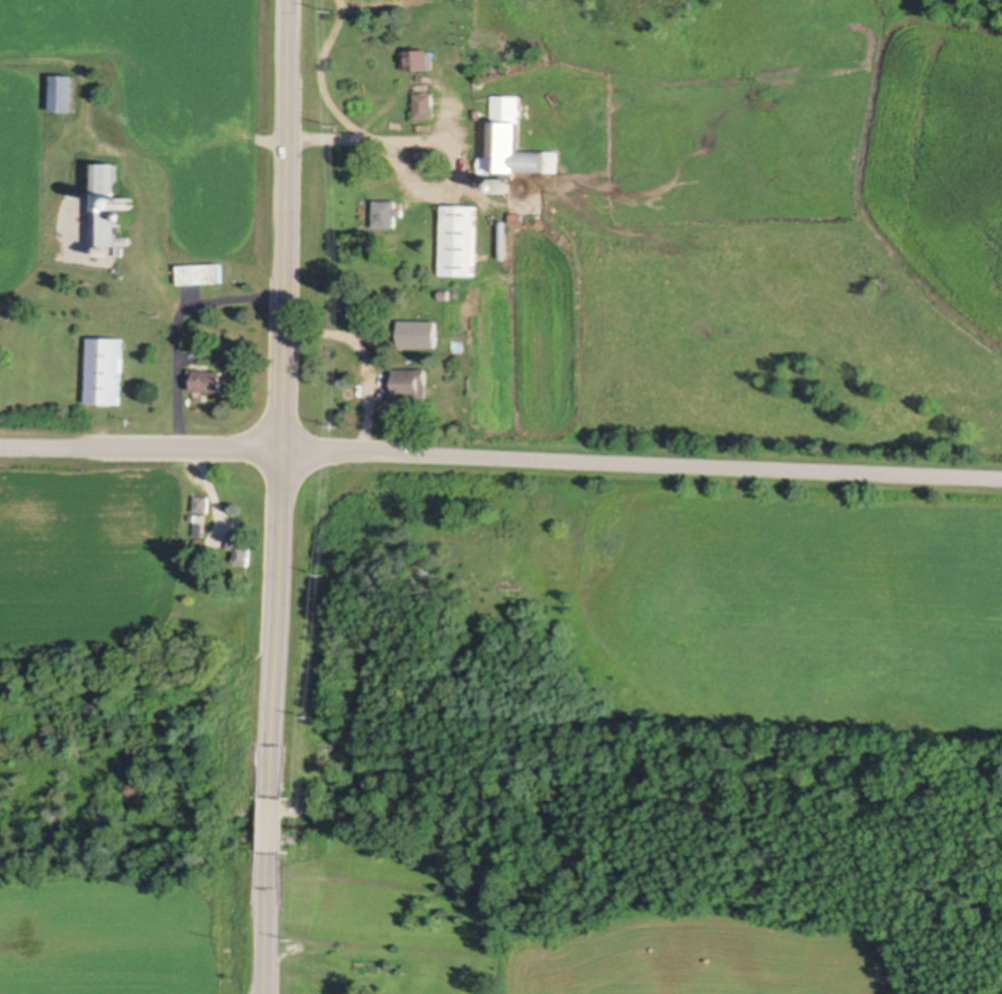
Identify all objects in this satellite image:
building: (525, 48)
building: (420, 59)
building: (65, 92)
building: (425, 105)
building: (477, 113)
building: (513, 142)
building: (129, 200)
building: (108, 207)
building: (387, 212)
building: (519, 217)
building: (460, 238)
building: (505, 239)
building: (201, 272)
building: (447, 293)
road: (181, 320)
building: (420, 333)
building: (105, 368)
building: (206, 380)
road: (285, 381)
building: (410, 384)
road: (501, 457)
building: (202, 502)
building: (199, 527)
building: (241, 545)
road: (273, 820)
road: (268, 936)
building: (352, 993)

